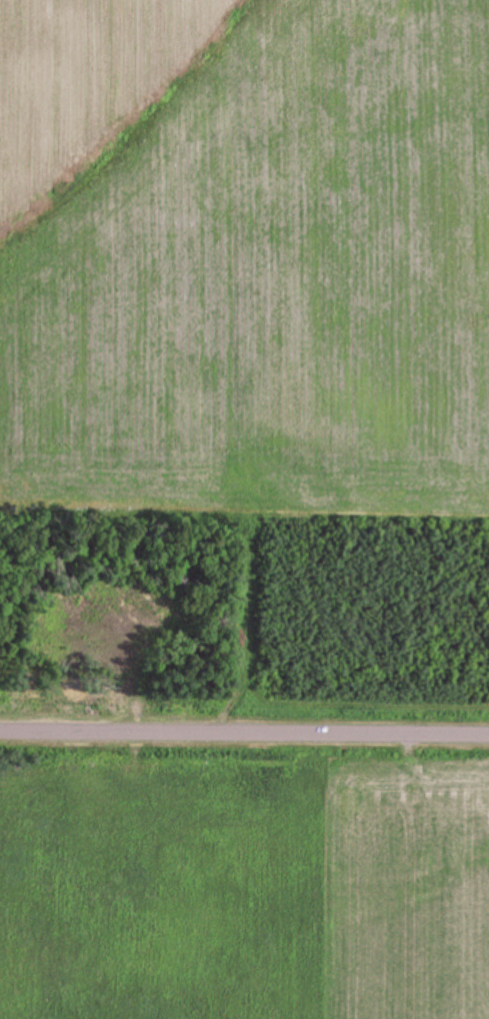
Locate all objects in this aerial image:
road: (244, 745)

